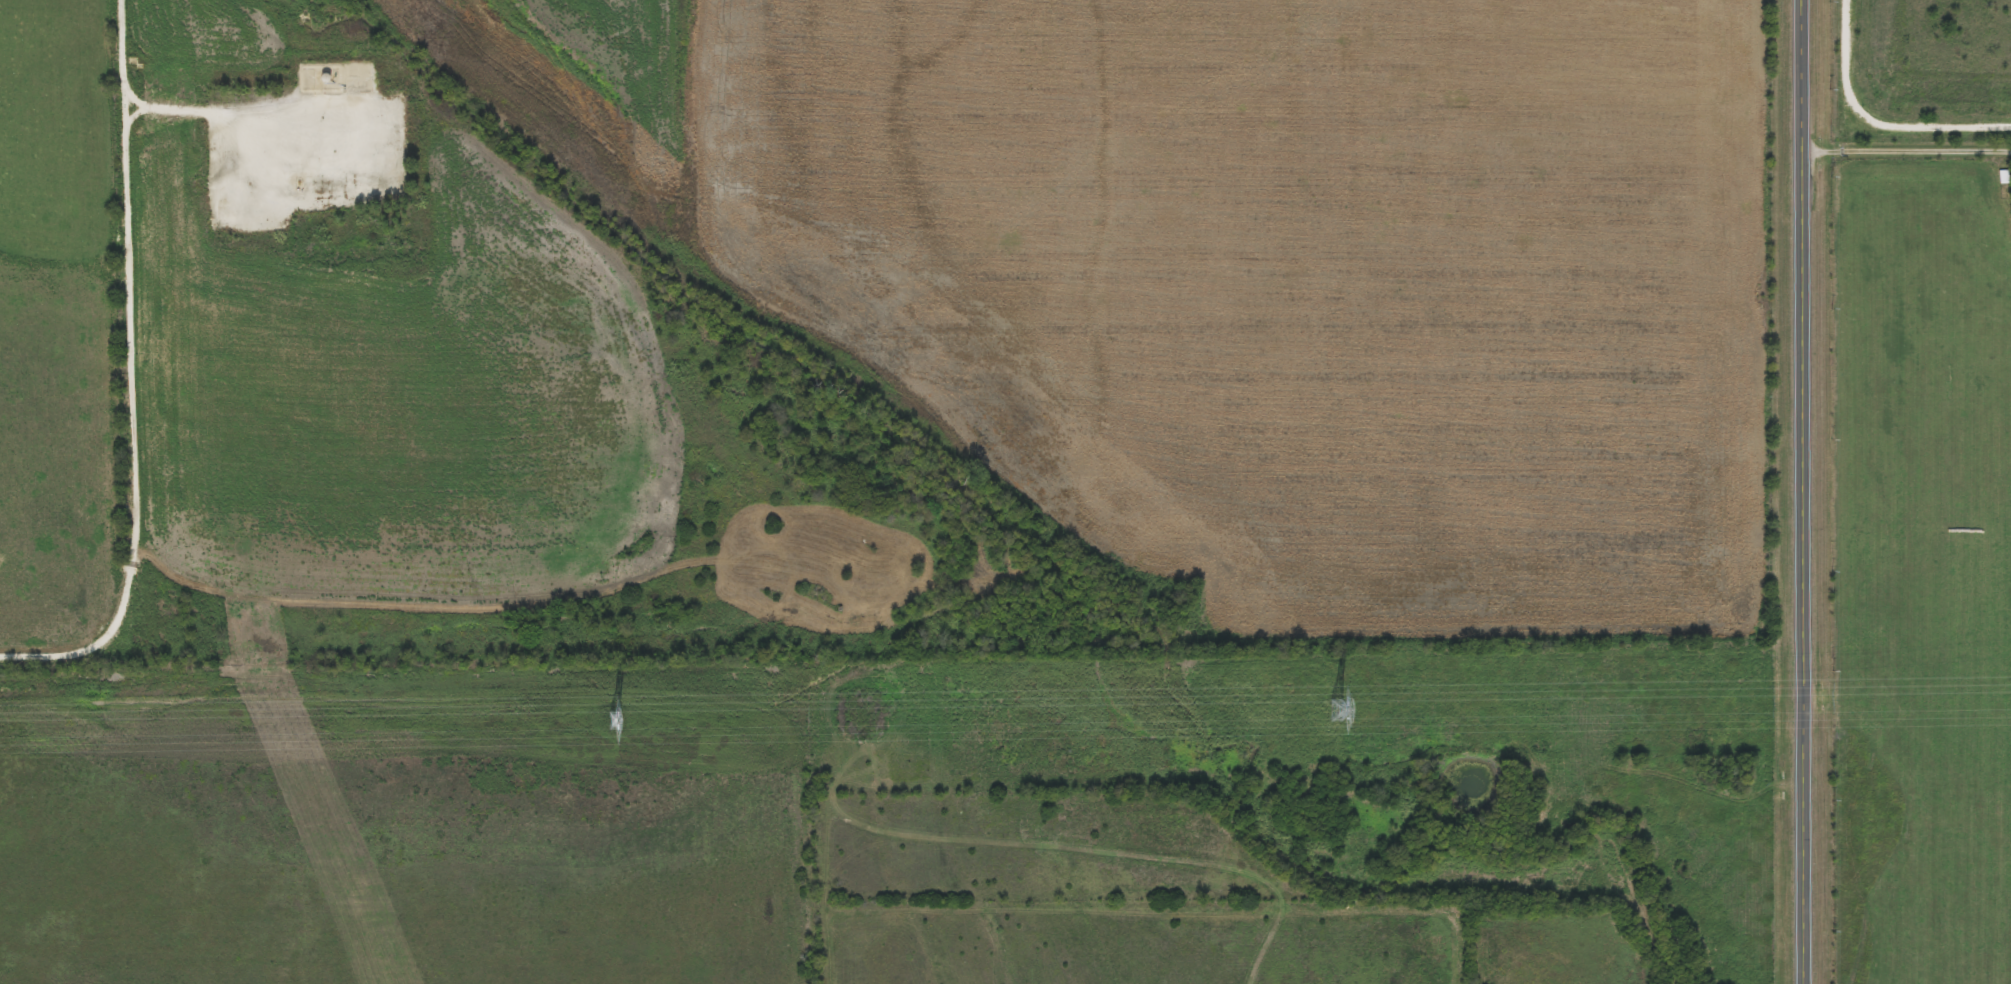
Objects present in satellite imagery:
road: (1877, 119)
road: (1905, 149)
road: (126, 375)
road: (1800, 492)
power tower: (1339, 710)
power tower: (616, 721)
road: (1905, 765)

